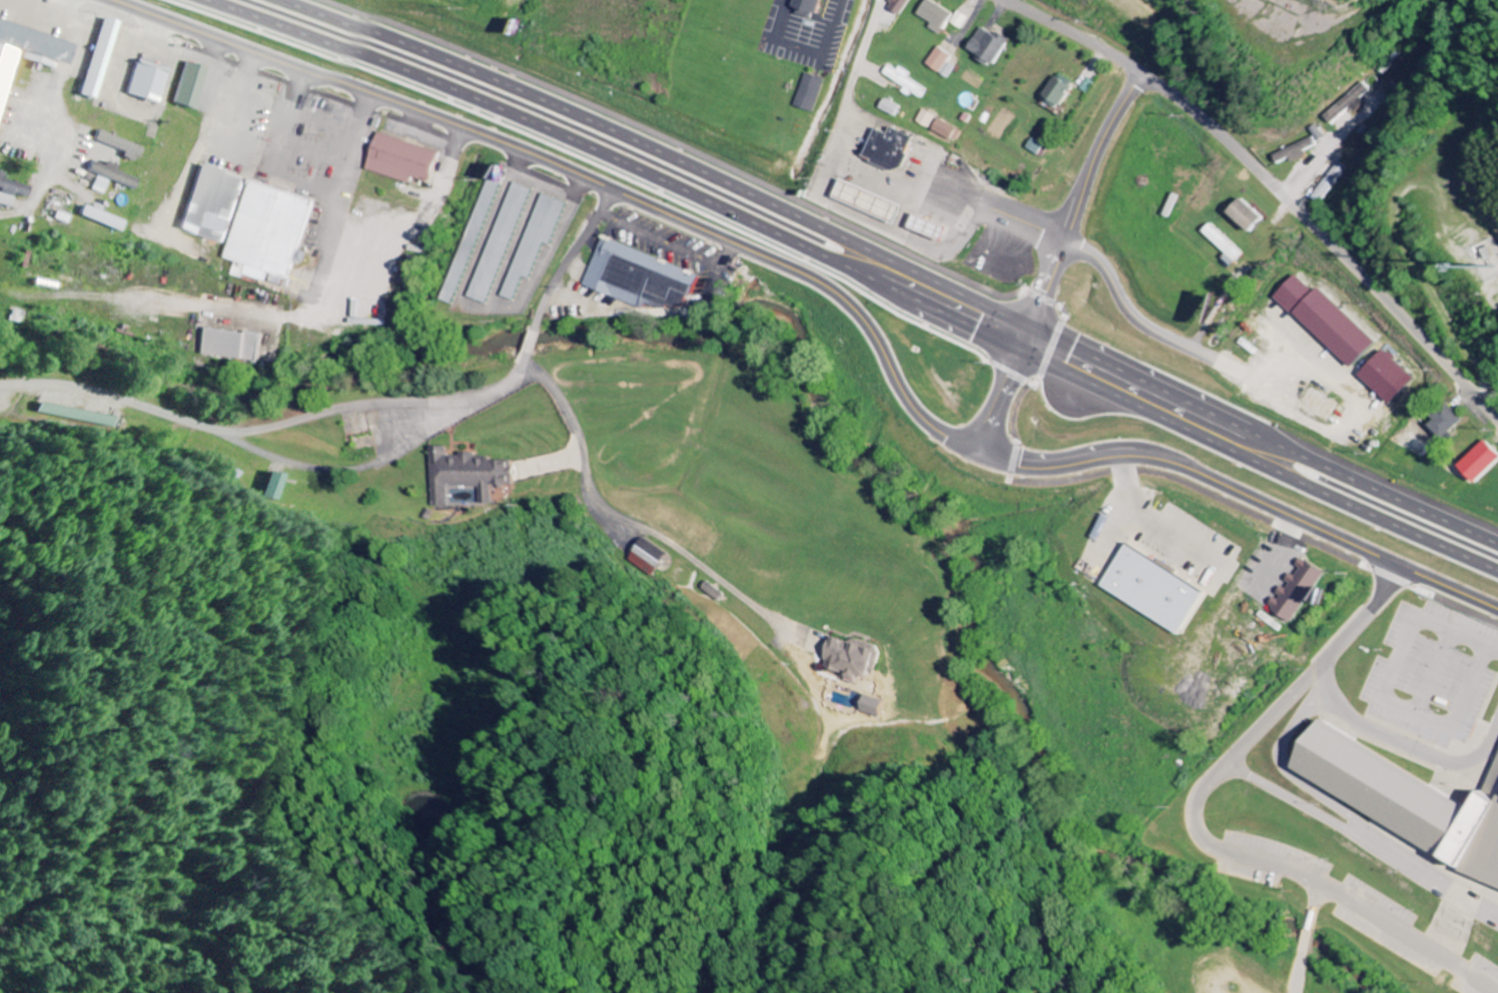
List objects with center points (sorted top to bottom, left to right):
building: (809, 5)
building: (898, 6)
building: (934, 16)
building: (957, 20)
building: (986, 45)
building: (105, 51)
building: (27, 53)
building: (938, 59)
building: (903, 81)
building: (150, 82)
building: (193, 85)
building: (809, 92)
building: (1058, 92)
road: (848, 99)
building: (1347, 103)
building: (888, 108)
building: (924, 119)
building: (943, 130)
building: (122, 145)
building: (892, 148)
building: (1299, 148)
building: (404, 160)
building: (114, 174)
road: (1273, 182)
building: (101, 185)
building: (14, 187)
road: (946, 197)
building: (7, 199)
building: (872, 201)
building: (217, 202)
building: (1249, 216)
building: (104, 218)
building: (934, 228)
building: (274, 229)
building: (538, 240)
building: (502, 243)
road: (571, 253)
road: (1055, 260)
road: (895, 262)
road: (856, 272)
building: (642, 276)
road: (828, 290)
building: (1328, 321)
traffic signals: (1032, 325)
river: (637, 327)
road: (535, 338)
building: (235, 343)
traffic signals: (1022, 349)
building: (1389, 377)
building: (1321, 404)
building: (55, 411)
building: (1448, 423)
road: (229, 430)
road: (386, 448)
building: (1483, 461)
building: (465, 475)
building: (280, 486)
building: (646, 554)
building: (637, 565)
building: (1150, 589)
building: (1298, 591)
building: (854, 658)
building: (871, 707)
building: (1496, 781)
building: (1453, 799)
river: (1182, 891)

